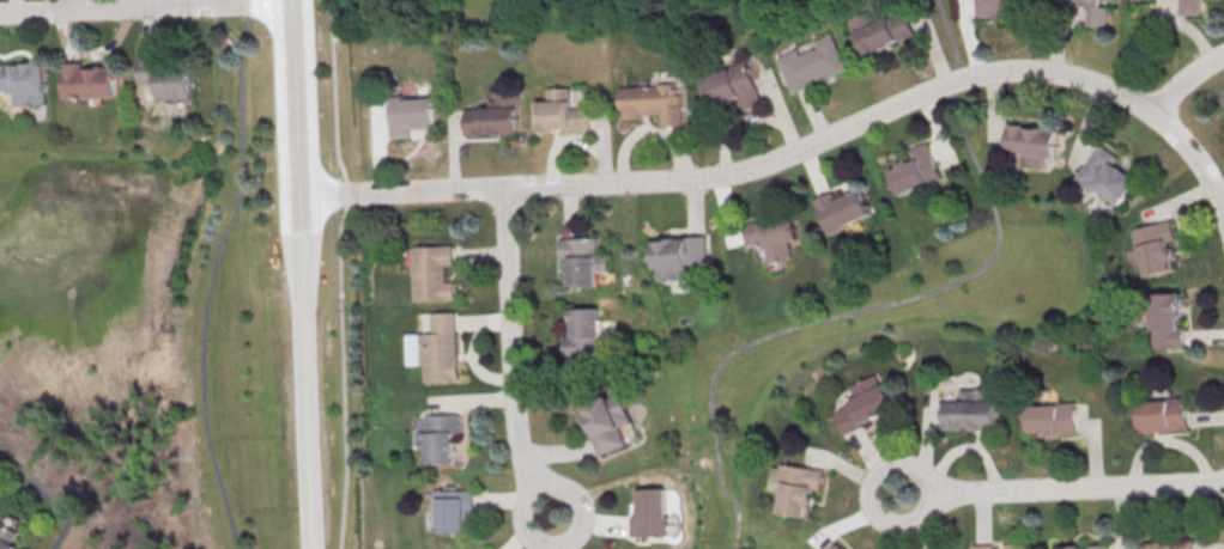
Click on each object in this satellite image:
road: (77, 5)
road: (135, 6)
building: (999, 7)
building: (1188, 7)
building: (1090, 11)
building: (883, 31)
building: (810, 65)
building: (168, 79)
building: (90, 80)
building: (26, 81)
road: (1183, 81)
building: (733, 86)
building: (150, 92)
building: (650, 103)
building: (562, 111)
building: (412, 115)
building: (495, 116)
building: (1032, 142)
road: (1195, 163)
road: (739, 170)
building: (914, 171)
building: (1103, 177)
building: (846, 208)
building: (774, 238)
building: (1151, 246)
building: (680, 256)
building: (583, 260)
road: (341, 273)
road: (213, 274)
road: (303, 274)
building: (431, 274)
road: (893, 303)
building: (1164, 322)
building: (583, 335)
road: (514, 340)
building: (441, 350)
building: (865, 403)
building: (971, 410)
building: (1162, 415)
building: (1052, 419)
building: (444, 437)
road: (884, 464)
road: (1081, 486)
road: (538, 489)
building: (799, 490)
road: (46, 498)
building: (456, 510)
building: (656, 514)
building: (7, 537)
building: (1167, 544)
building: (838, 545)
building: (984, 545)
building: (1017, 545)
building: (1083, 547)

